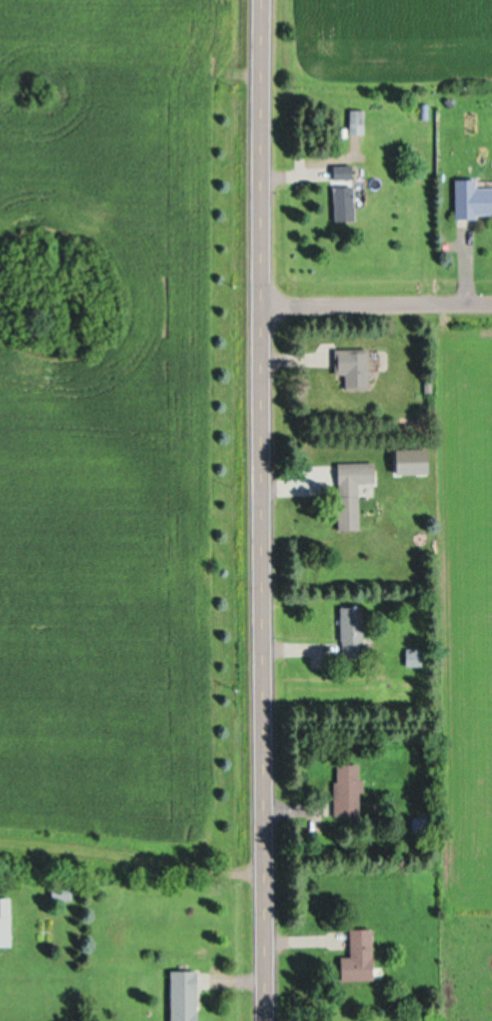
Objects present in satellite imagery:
building: (339, 193)
building: (471, 200)
road: (375, 304)
building: (350, 367)
crop: (126, 432)
building: (414, 459)
building: (348, 492)
road: (260, 510)
building: (350, 632)
building: (345, 790)
building: (4, 922)
building: (354, 957)
building: (178, 995)

